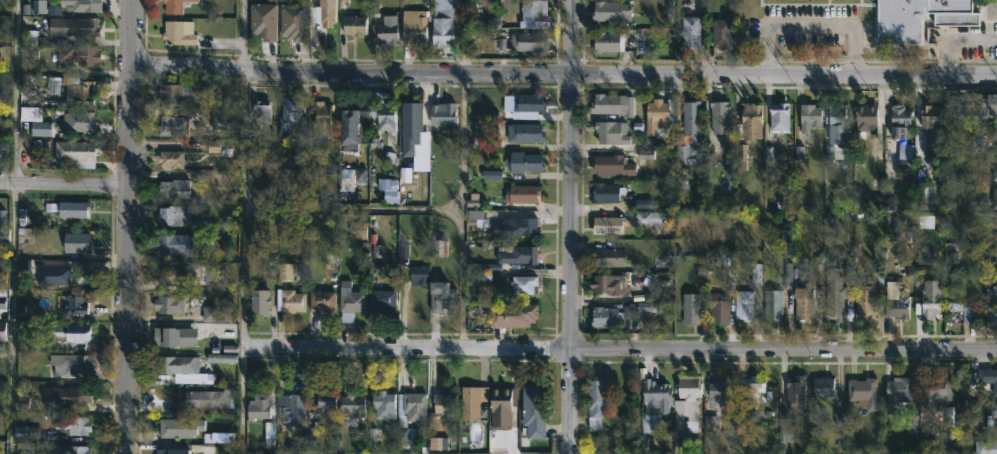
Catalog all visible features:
building: (81, 5)
building: (173, 6)
building: (532, 10)
building: (611, 10)
building: (322, 14)
building: (918, 18)
building: (264, 22)
building: (295, 22)
building: (353, 25)
building: (73, 26)
building: (413, 26)
building: (441, 28)
building: (384, 30)
building: (720, 30)
building: (690, 31)
building: (178, 32)
road: (463, 37)
building: (527, 41)
building: (606, 41)
road: (957, 42)
building: (79, 55)
road: (563, 74)
building: (80, 91)
building: (170, 93)
building: (1, 99)
building: (528, 103)
building: (611, 105)
building: (982, 108)
building: (671, 109)
building: (320, 112)
building: (259, 113)
building: (442, 114)
building: (657, 114)
building: (383, 115)
building: (719, 116)
building: (837, 116)
building: (866, 116)
building: (779, 117)
building: (809, 117)
building: (289, 118)
building: (80, 121)
building: (900, 121)
building: (409, 122)
building: (749, 122)
building: (930, 123)
building: (172, 125)
building: (219, 126)
building: (351, 127)
building: (41, 128)
building: (525, 132)
building: (610, 132)
building: (994, 133)
building: (688, 135)
building: (0, 145)
building: (75, 153)
building: (742, 153)
building: (645, 155)
building: (905, 155)
building: (171, 158)
building: (996, 161)
building: (523, 162)
building: (612, 165)
building: (995, 175)
building: (227, 181)
road: (63, 186)
building: (174, 188)
building: (606, 192)
building: (522, 193)
building: (926, 196)
building: (994, 198)
building: (643, 204)
building: (67, 208)
road: (354, 212)
road: (462, 212)
building: (177, 217)
building: (647, 217)
building: (994, 224)
building: (607, 225)
road: (126, 226)
road: (245, 226)
building: (515, 226)
road: (567, 226)
road: (15, 227)
building: (785, 242)
building: (76, 243)
building: (165, 243)
building: (517, 254)
building: (996, 255)
building: (608, 257)
building: (925, 257)
building: (44, 271)
building: (608, 284)
building: (523, 285)
building: (992, 291)
building: (721, 295)
building: (839, 296)
building: (441, 297)
building: (866, 297)
building: (931, 299)
building: (349, 300)
building: (288, 301)
building: (382, 301)
building: (895, 301)
building: (321, 302)
building: (258, 303)
building: (804, 303)
building: (168, 304)
building: (74, 305)
building: (743, 305)
building: (773, 305)
building: (646, 307)
building: (692, 308)
building: (964, 312)
building: (212, 313)
building: (512, 314)
building: (989, 315)
building: (604, 317)
building: (67, 333)
building: (166, 336)
road: (619, 351)
building: (72, 367)
building: (179, 368)
building: (25, 371)
building: (986, 377)
building: (959, 382)
building: (823, 387)
building: (752, 388)
building: (936, 389)
building: (719, 391)
building: (862, 391)
building: (795, 392)
building: (898, 392)
building: (655, 394)
building: (70, 399)
building: (208, 401)
building: (325, 401)
building: (472, 401)
building: (596, 402)
building: (685, 402)
building: (381, 404)
building: (443, 404)
building: (502, 405)
building: (259, 406)
building: (292, 408)
building: (350, 408)
building: (533, 412)
building: (409, 413)
building: (948, 418)
building: (992, 418)
building: (710, 421)
building: (911, 423)
building: (650, 424)
building: (73, 425)
building: (181, 427)
building: (786, 430)
building: (27, 433)
building: (985, 447)
building: (216, 449)
building: (76, 450)
building: (172, 451)
building: (30, 453)

